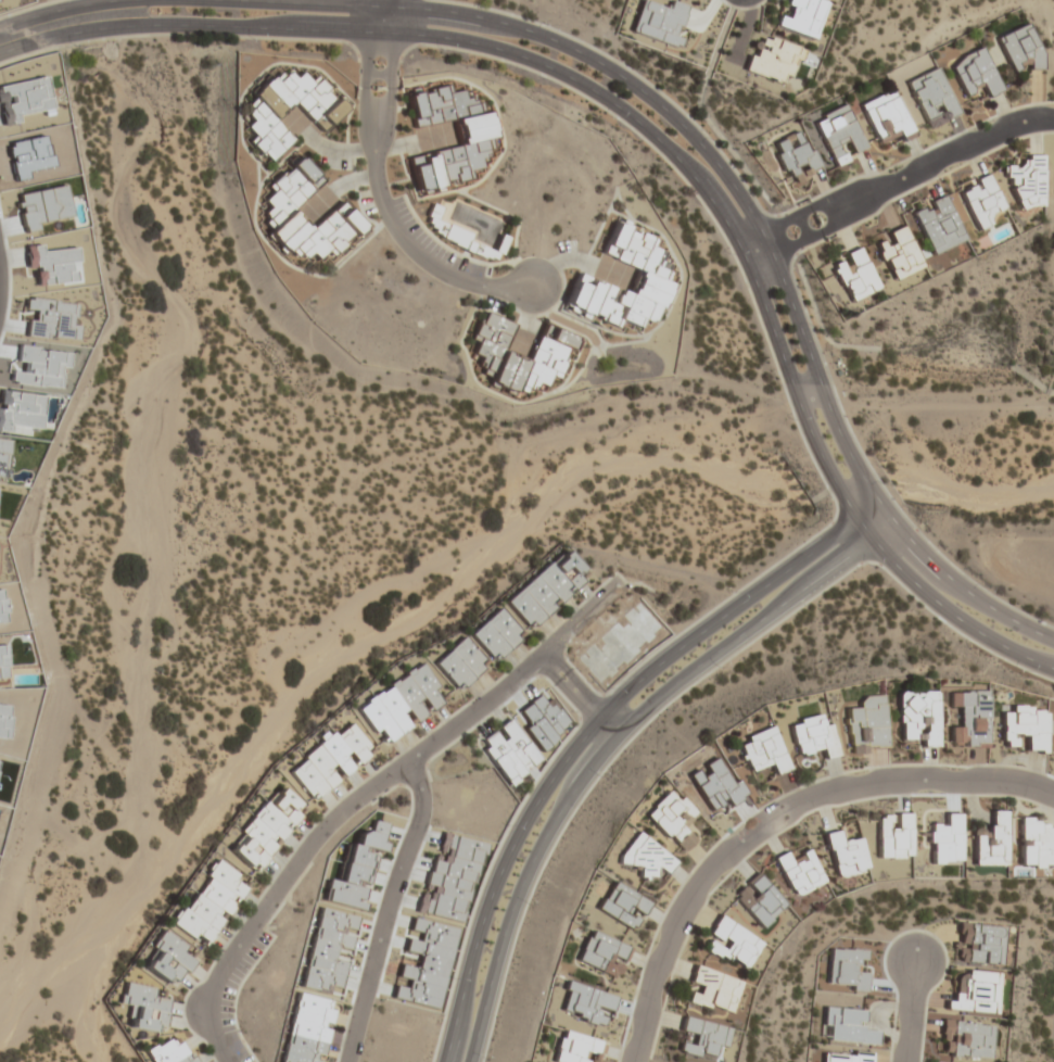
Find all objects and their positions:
road: (376, 10)
building: (803, 16)
building: (1021, 49)
building: (774, 59)
building: (975, 73)
building: (932, 98)
building: (263, 116)
road: (659, 118)
building: (887, 119)
building: (838, 134)
building: (477, 137)
building: (795, 156)
road: (904, 177)
building: (1027, 182)
building: (981, 201)
building: (280, 205)
road: (380, 208)
building: (938, 224)
building: (494, 249)
building: (899, 253)
building: (854, 275)
building: (650, 282)
road: (0, 290)
building: (550, 352)
building: (544, 590)
building: (494, 635)
building: (459, 665)
road: (583, 697)
building: (401, 704)
building: (918, 718)
building: (969, 719)
building: (868, 725)
building: (1024, 729)
road: (586, 733)
building: (813, 736)
road: (611, 747)
building: (508, 751)
building: (763, 751)
building: (329, 761)
road: (366, 796)
road: (773, 820)
building: (674, 823)
building: (265, 830)
building: (893, 836)
building: (990, 842)
building: (1034, 845)
building: (845, 855)
building: (645, 858)
building: (798, 872)
building: (759, 900)
building: (209, 903)
building: (621, 906)
road: (389, 912)
building: (732, 944)
building: (979, 944)
building: (602, 954)
building: (166, 959)
building: (714, 990)
building: (976, 991)
building: (142, 1008)
road: (910, 1013)
building: (847, 1026)
building: (307, 1029)
building: (703, 1037)
building: (966, 1039)
building: (577, 1048)
building: (169, 1052)
building: (846, 1058)

